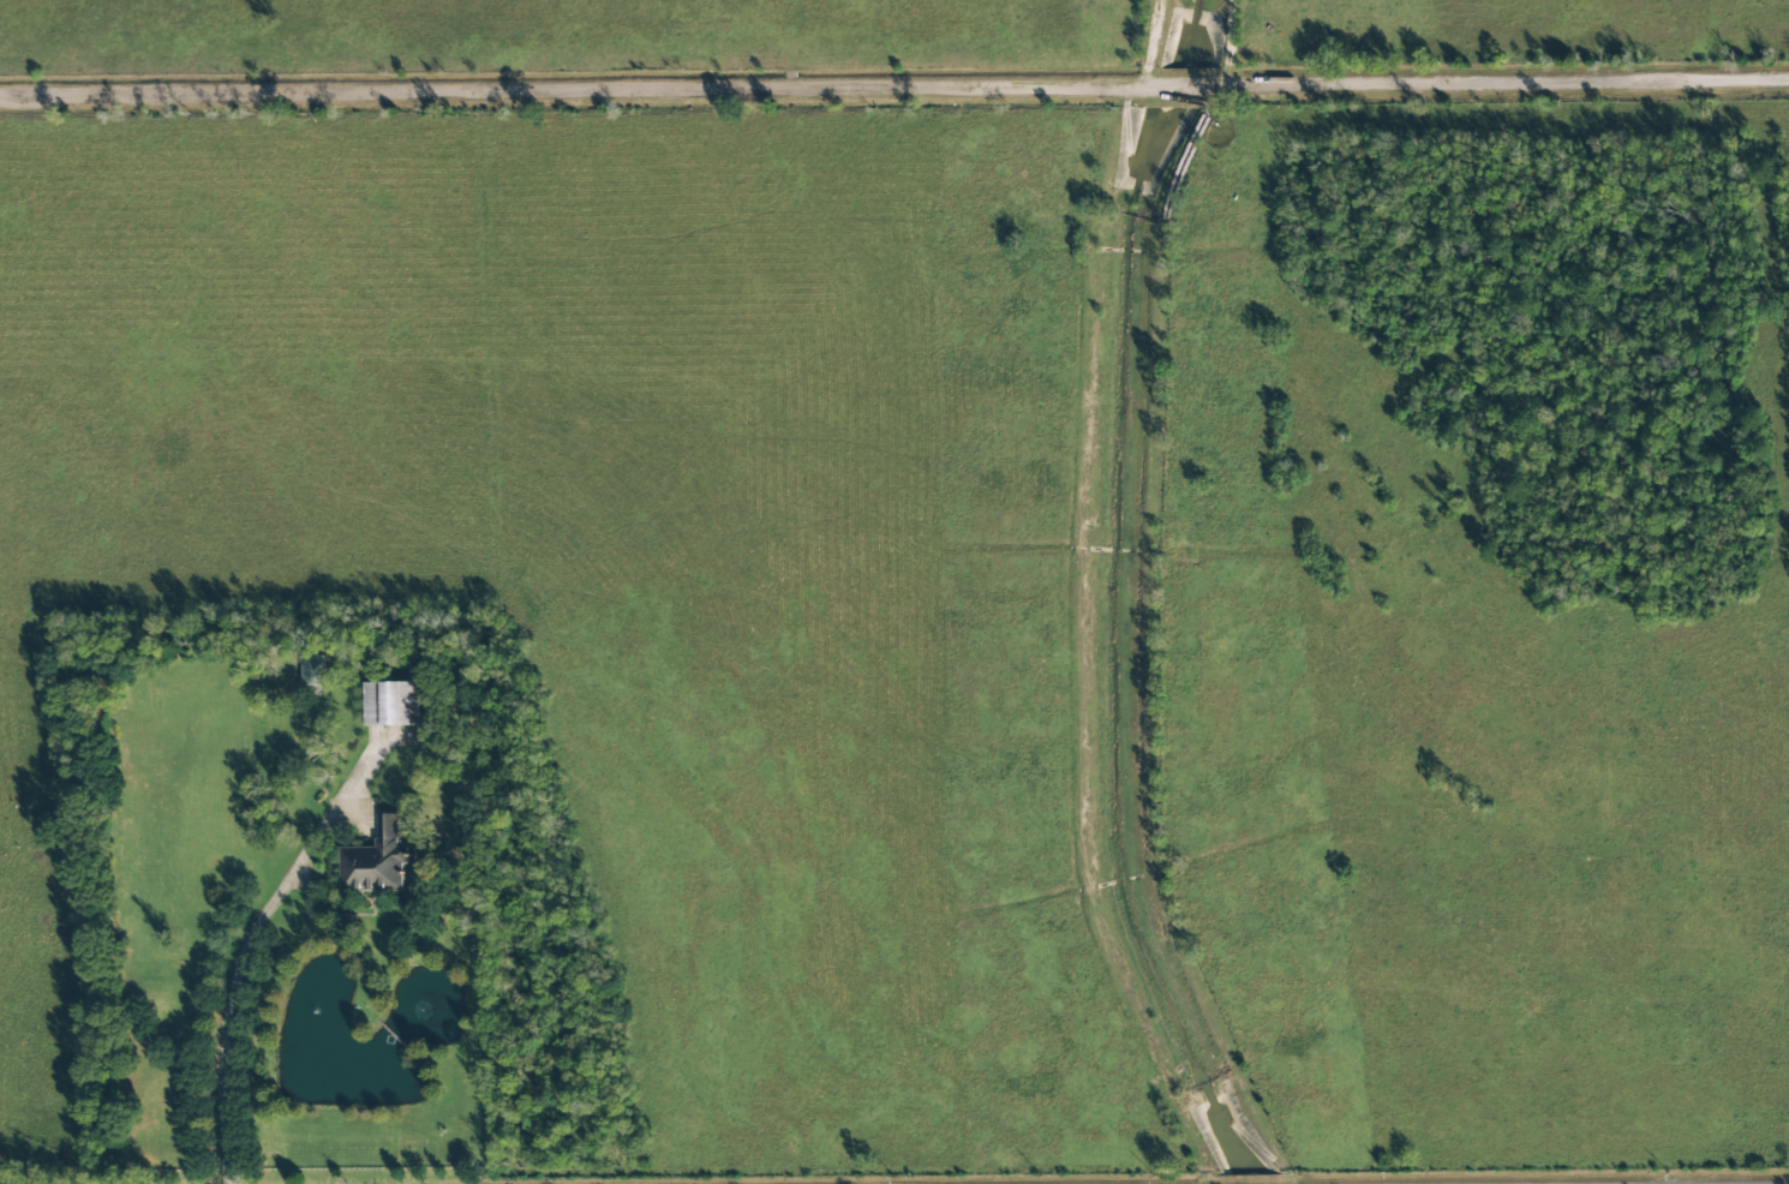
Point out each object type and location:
road: (893, 84)
building: (391, 704)
building: (376, 861)

